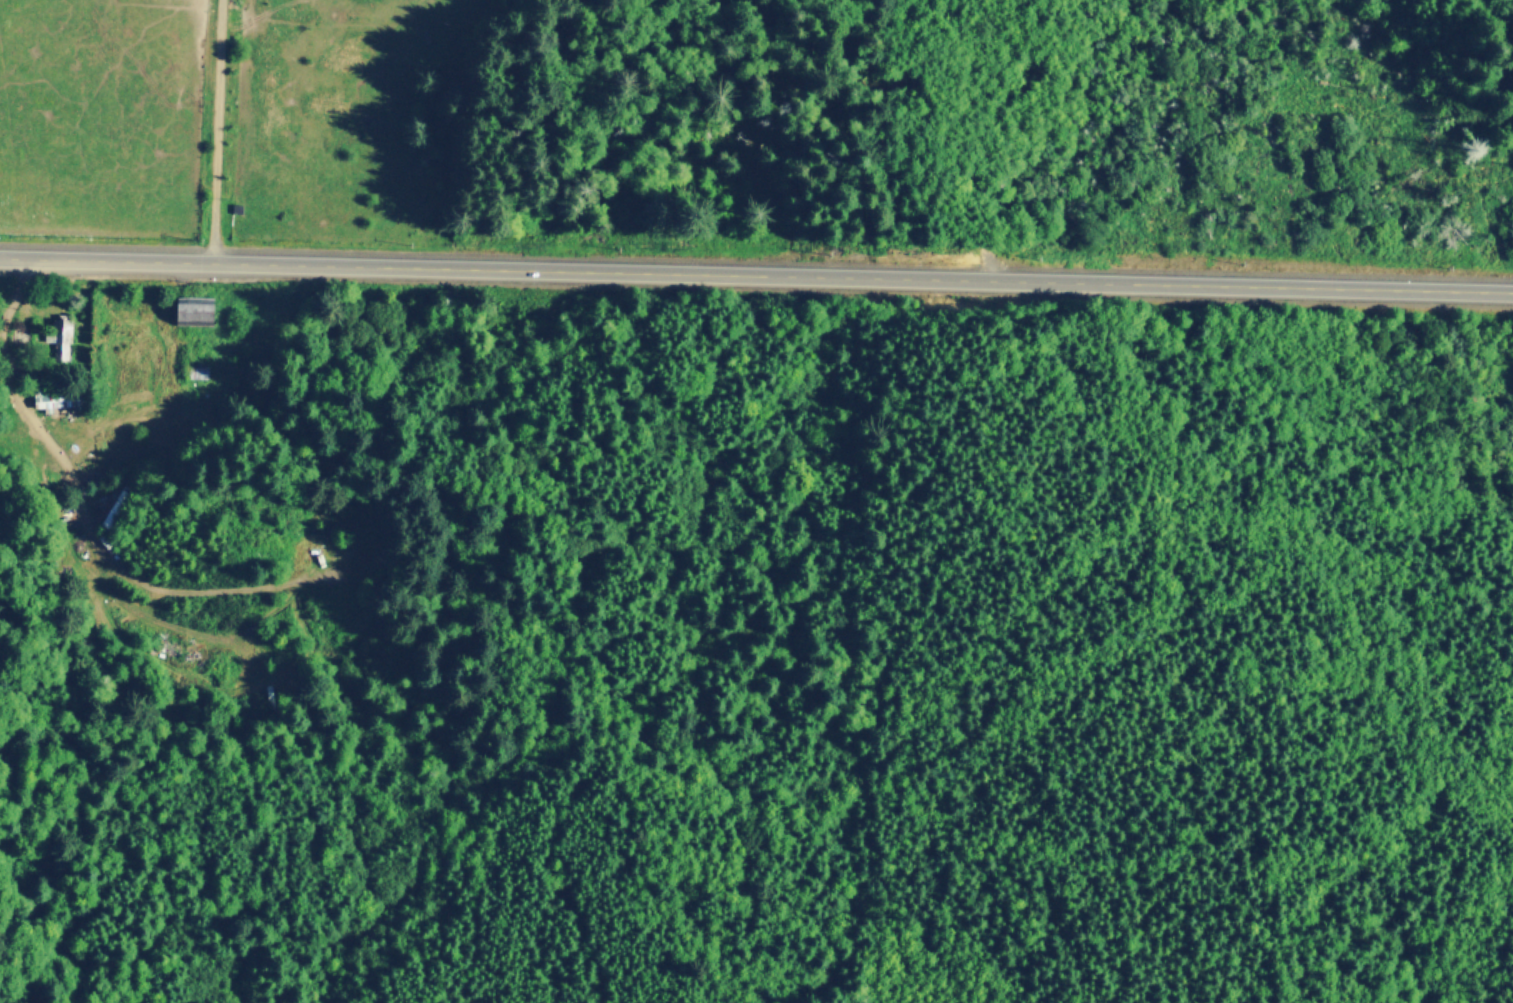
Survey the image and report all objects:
road: (213, 128)
road: (756, 268)

